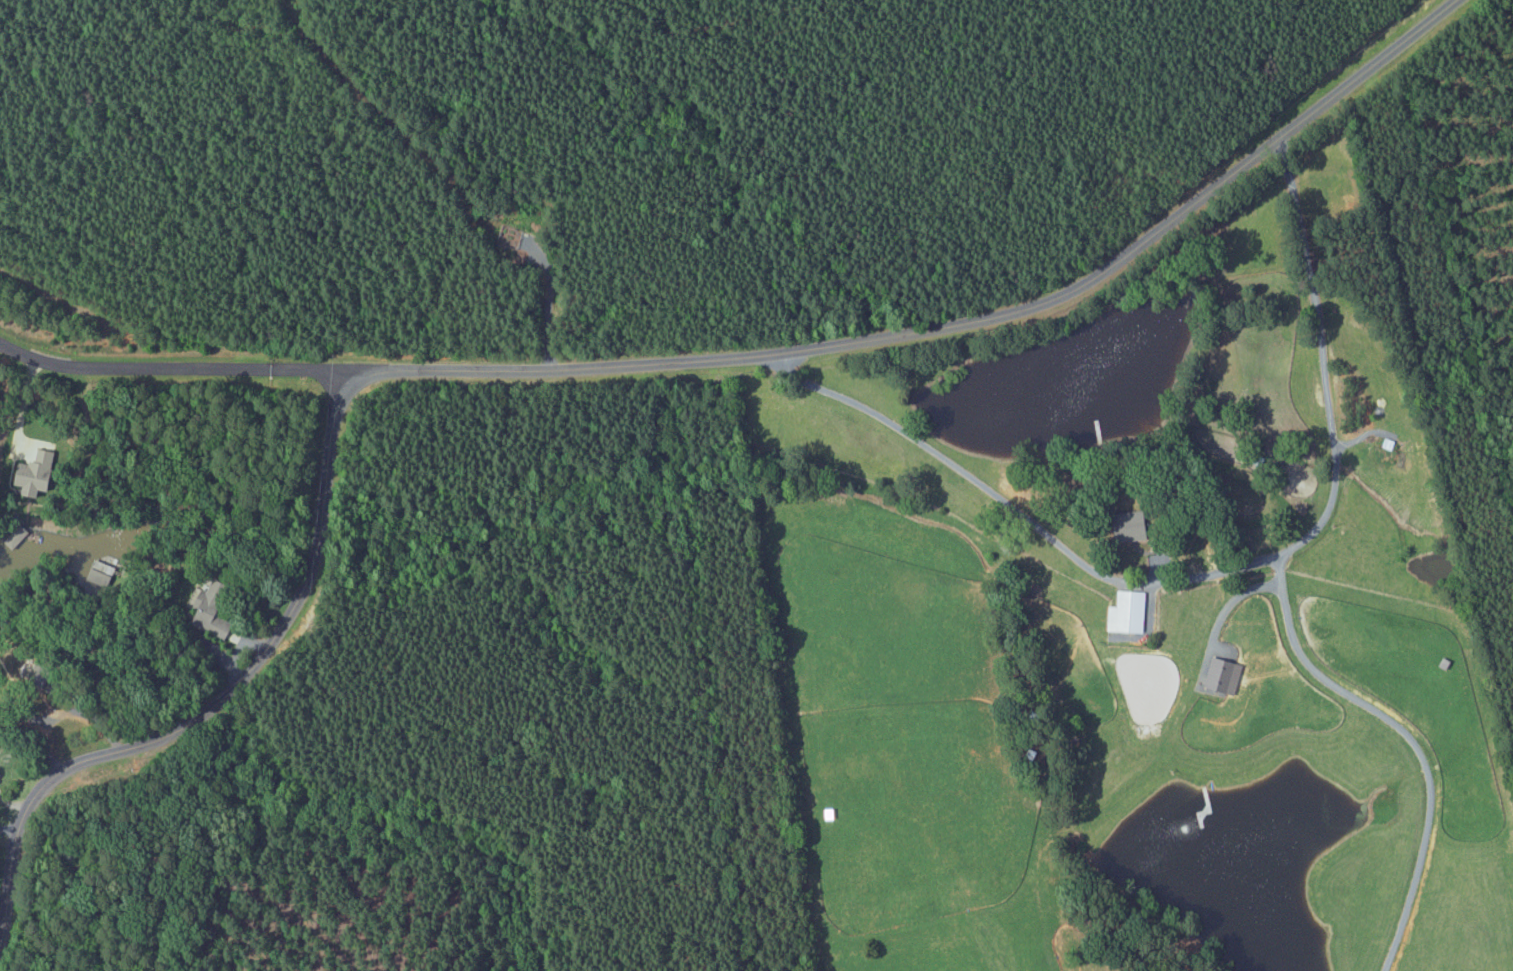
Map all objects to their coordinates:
road: (164, 371)
road: (586, 371)
building: (38, 473)
building: (1121, 525)
building: (22, 538)
building: (1123, 612)
building: (215, 613)
building: (1218, 675)

